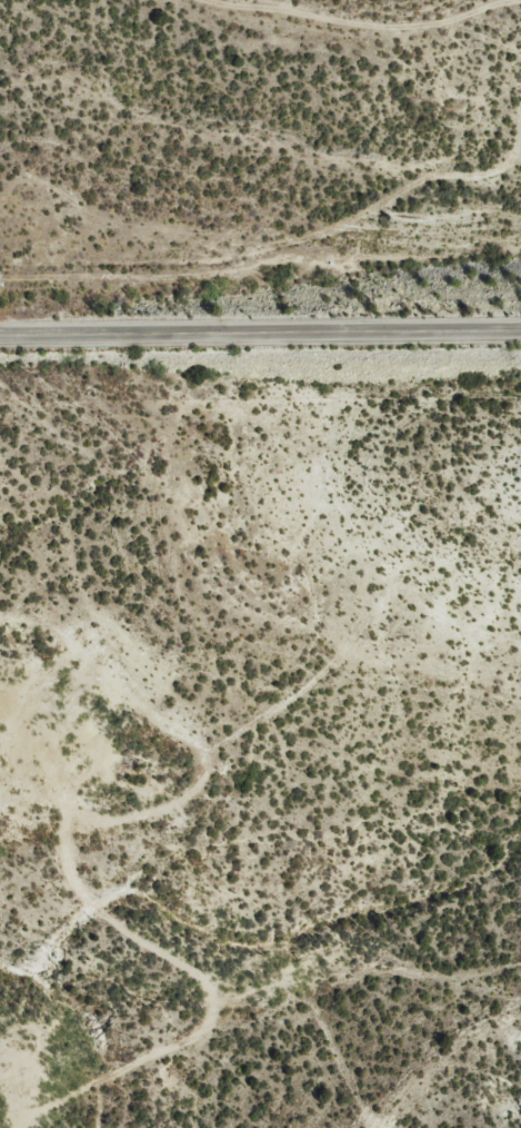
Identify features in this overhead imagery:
road: (260, 330)
road: (160, 976)

